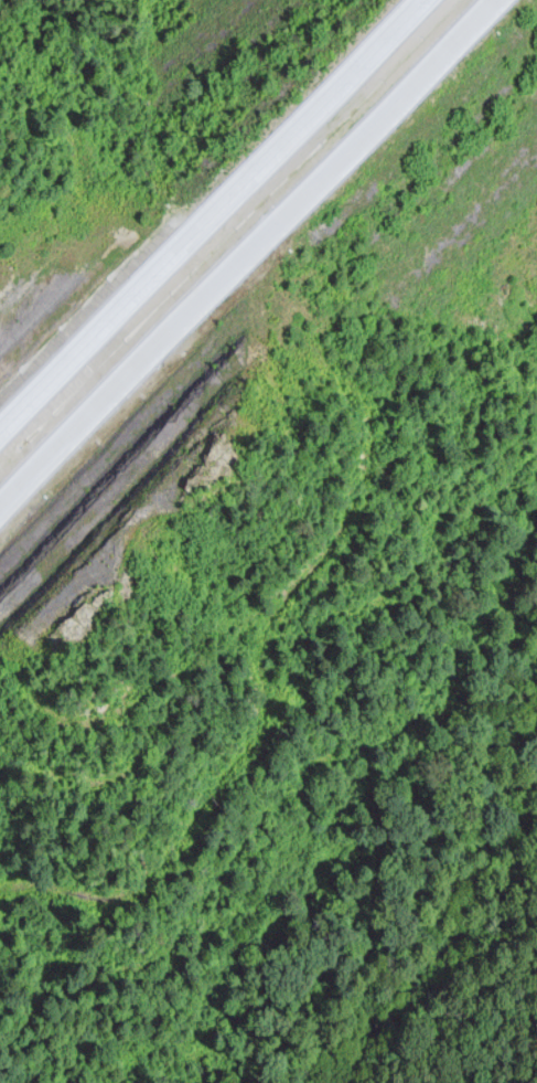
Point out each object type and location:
road: (212, 213)
road: (245, 254)
quarry: (36, 304)
quarry: (119, 499)

